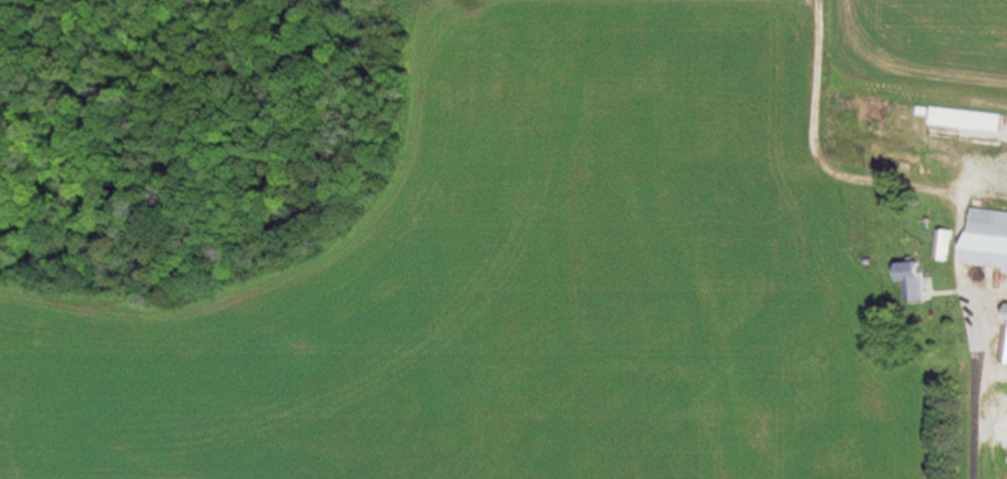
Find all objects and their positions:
building: (960, 119)
building: (975, 134)
road: (940, 193)
building: (983, 238)
building: (940, 245)
building: (907, 280)
building: (1002, 337)

